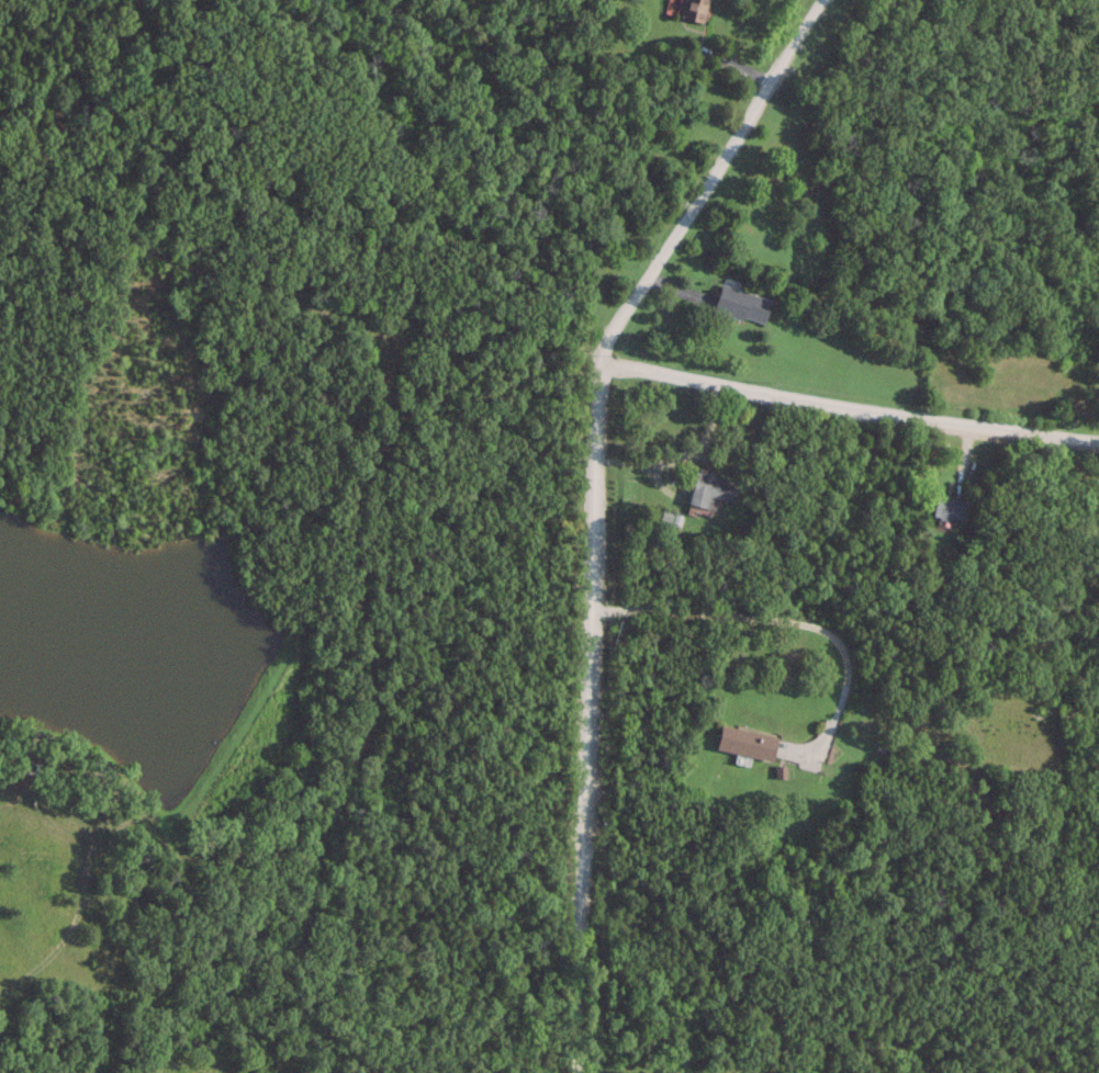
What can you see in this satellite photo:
building: (692, 10)
building: (738, 304)
road: (848, 406)
building: (707, 489)
road: (590, 505)
building: (945, 508)
road: (785, 623)
building: (742, 743)

